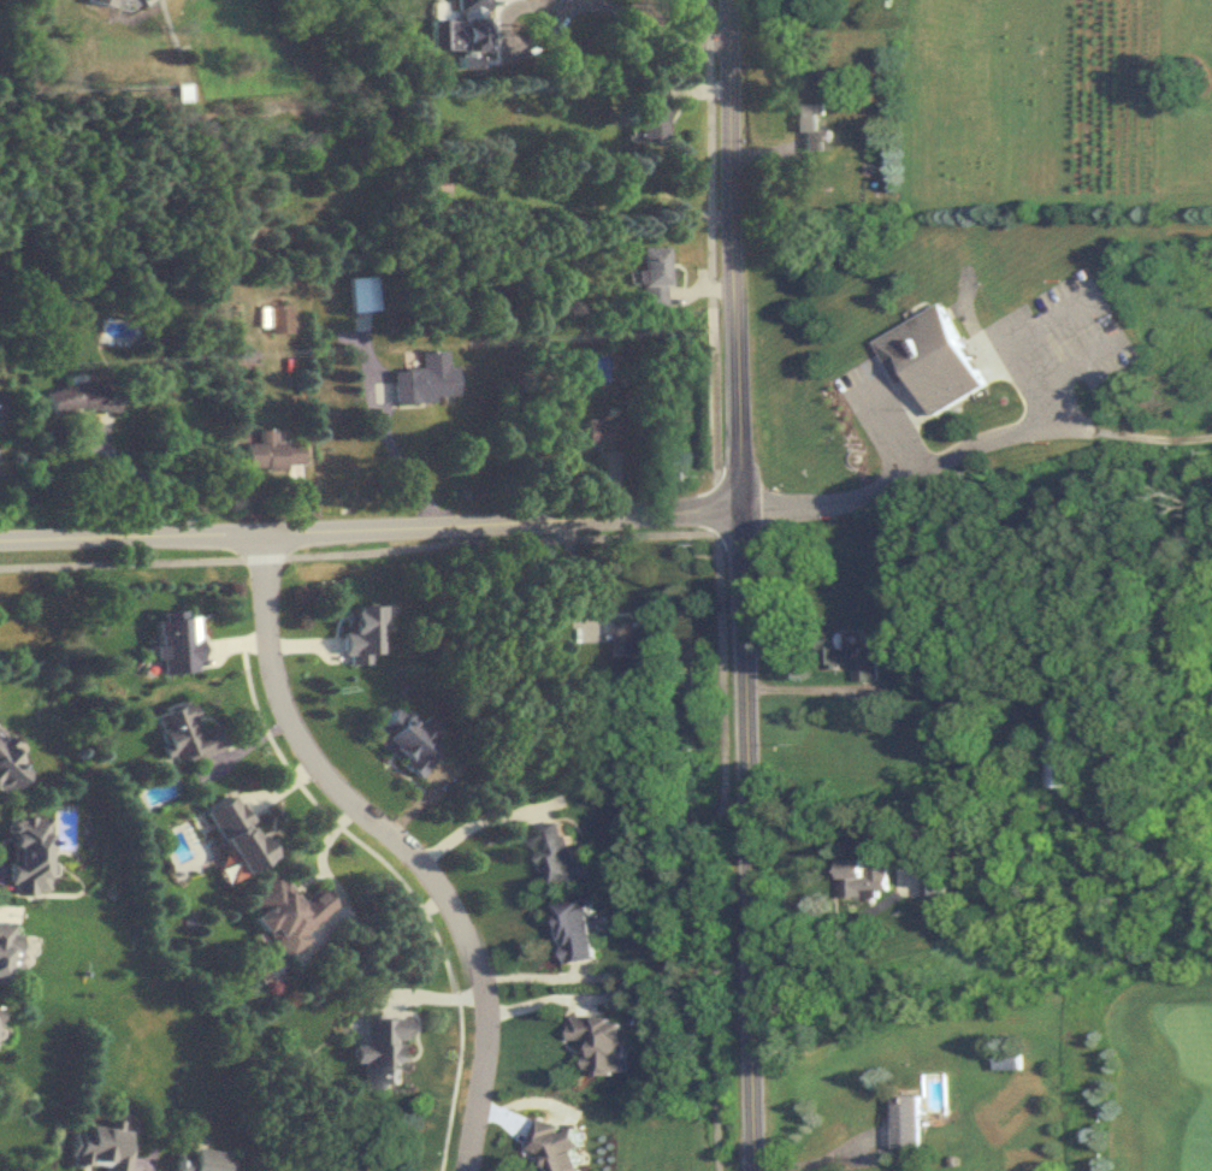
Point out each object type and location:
road: (568, 1)
building: (104, 2)
building: (654, 113)
building: (811, 129)
road: (710, 155)
building: (656, 277)
building: (365, 301)
road: (1069, 306)
building: (282, 319)
building: (932, 359)
building: (426, 379)
road: (715, 394)
building: (82, 398)
building: (1, 408)
road: (892, 431)
building: (603, 433)
road: (971, 445)
building: (276, 451)
road: (402, 461)
road: (154, 478)
road: (716, 492)
road: (369, 528)
road: (359, 554)
road: (740, 585)
building: (634, 638)
building: (847, 660)
road: (805, 688)
building: (185, 734)
building: (408, 740)
building: (1064, 763)
building: (11, 770)
road: (473, 822)
building: (238, 835)
road: (710, 839)
road: (396, 840)
park: (1160, 848)
building: (560, 853)
building: (31, 854)
building: (864, 881)
building: (933, 882)
building: (288, 915)
building: (577, 933)
building: (7, 947)
building: (601, 1045)
building: (383, 1052)
building: (1007, 1061)
building: (906, 1123)
building: (555, 1148)
building: (101, 1149)
road: (816, 1158)
building: (202, 1161)
building: (353, 1167)

